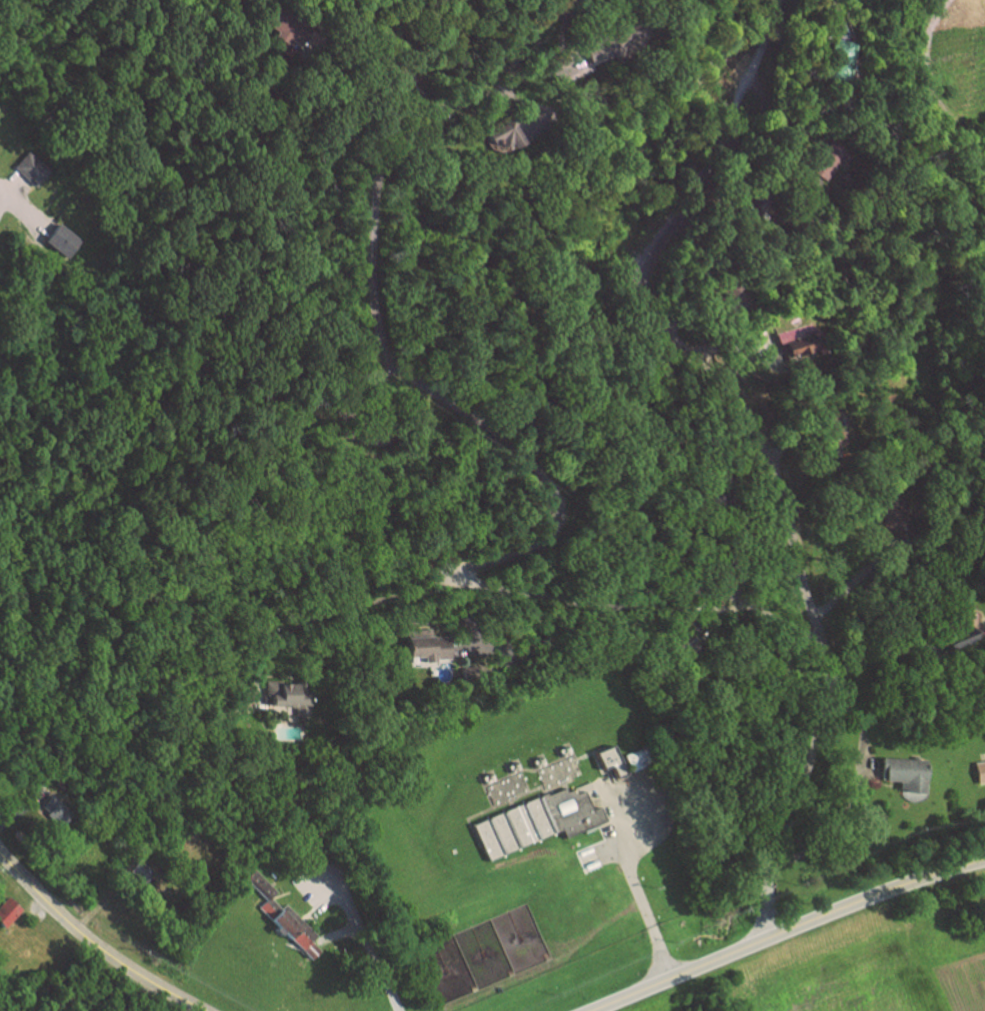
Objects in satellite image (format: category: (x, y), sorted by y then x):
road: (349, 24)
building: (288, 30)
building: (842, 58)
road: (928, 77)
road: (515, 97)
building: (512, 132)
building: (828, 159)
building: (33, 169)
road: (2, 198)
building: (66, 241)
building: (801, 341)
road: (761, 433)
road: (510, 449)
road: (860, 577)
road: (325, 612)
road: (545, 644)
building: (430, 648)
road: (881, 654)
building: (469, 672)
building: (288, 696)
building: (636, 760)
building: (612, 766)
building: (981, 772)
building: (909, 774)
building: (58, 812)
building: (542, 823)
wastewater plant: (522, 839)
building: (140, 871)
road: (635, 889)
building: (10, 912)
building: (284, 916)
road: (785, 930)
road: (357, 936)
road: (92, 942)

